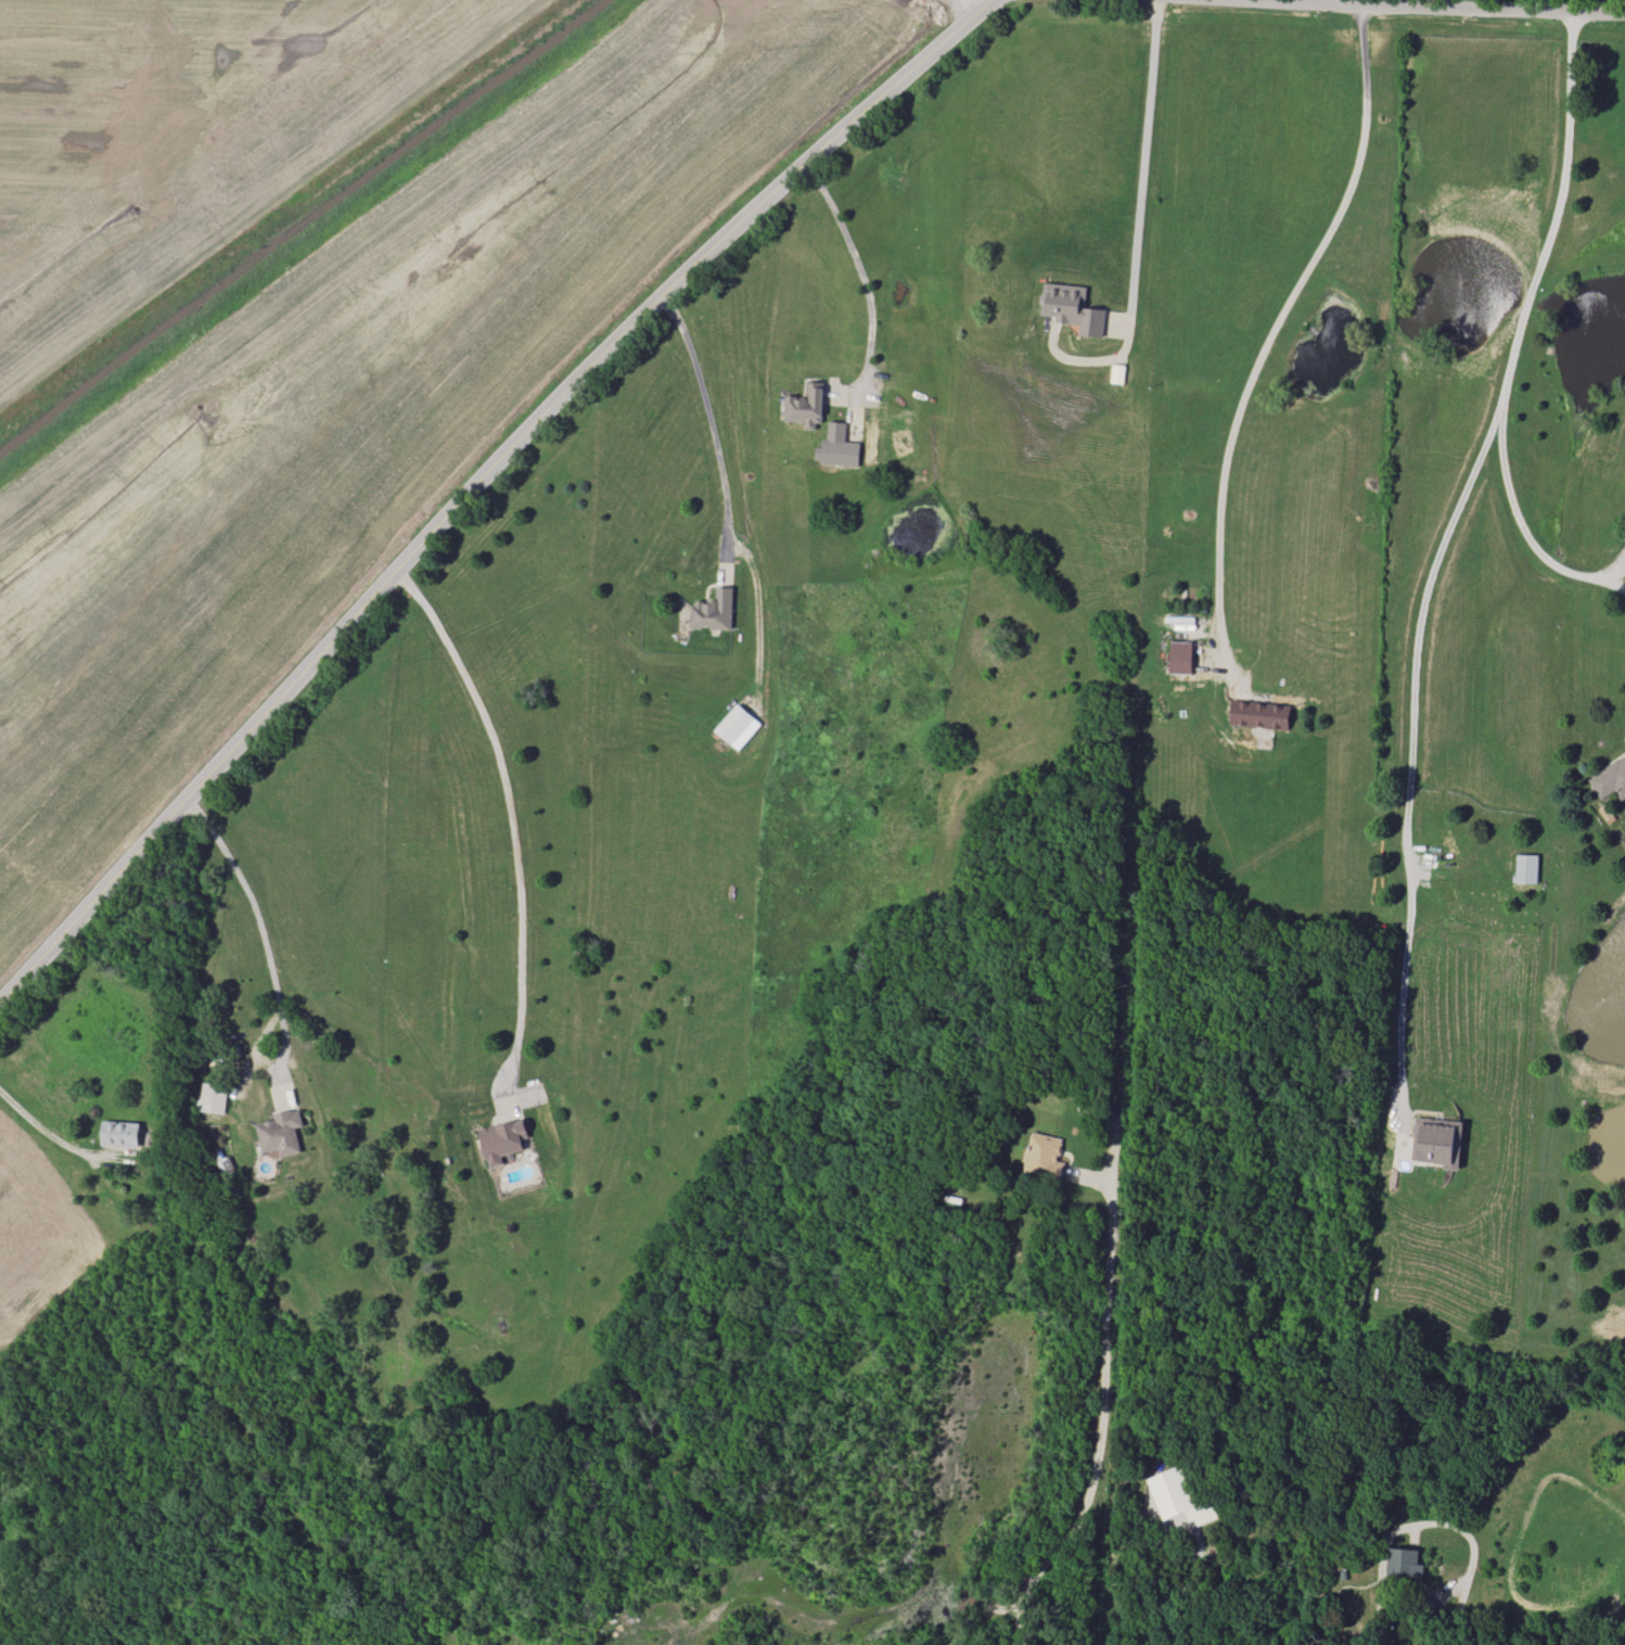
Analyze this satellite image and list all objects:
road: (1317, 1)
road: (1446, 7)
crop: (188, 140)
road: (1142, 156)
road: (863, 276)
building: (1072, 307)
road: (1272, 328)
crop: (362, 403)
building: (806, 406)
road: (713, 426)
building: (837, 447)
road: (478, 481)
road: (1520, 523)
road: (1435, 550)
building: (714, 611)
building: (1181, 658)
building: (1259, 715)
building: (738, 726)
building: (1610, 779)
road: (508, 811)
building: (1526, 868)
road: (265, 940)
building: (213, 1100)
road: (43, 1130)
building: (281, 1133)
building: (120, 1134)
building: (503, 1139)
building: (1437, 1143)
building: (1044, 1156)
crop: (40, 1245)
road: (1098, 1414)
building: (1179, 1497)
building: (1404, 1564)
road: (1471, 1571)
road: (1181, 1589)

